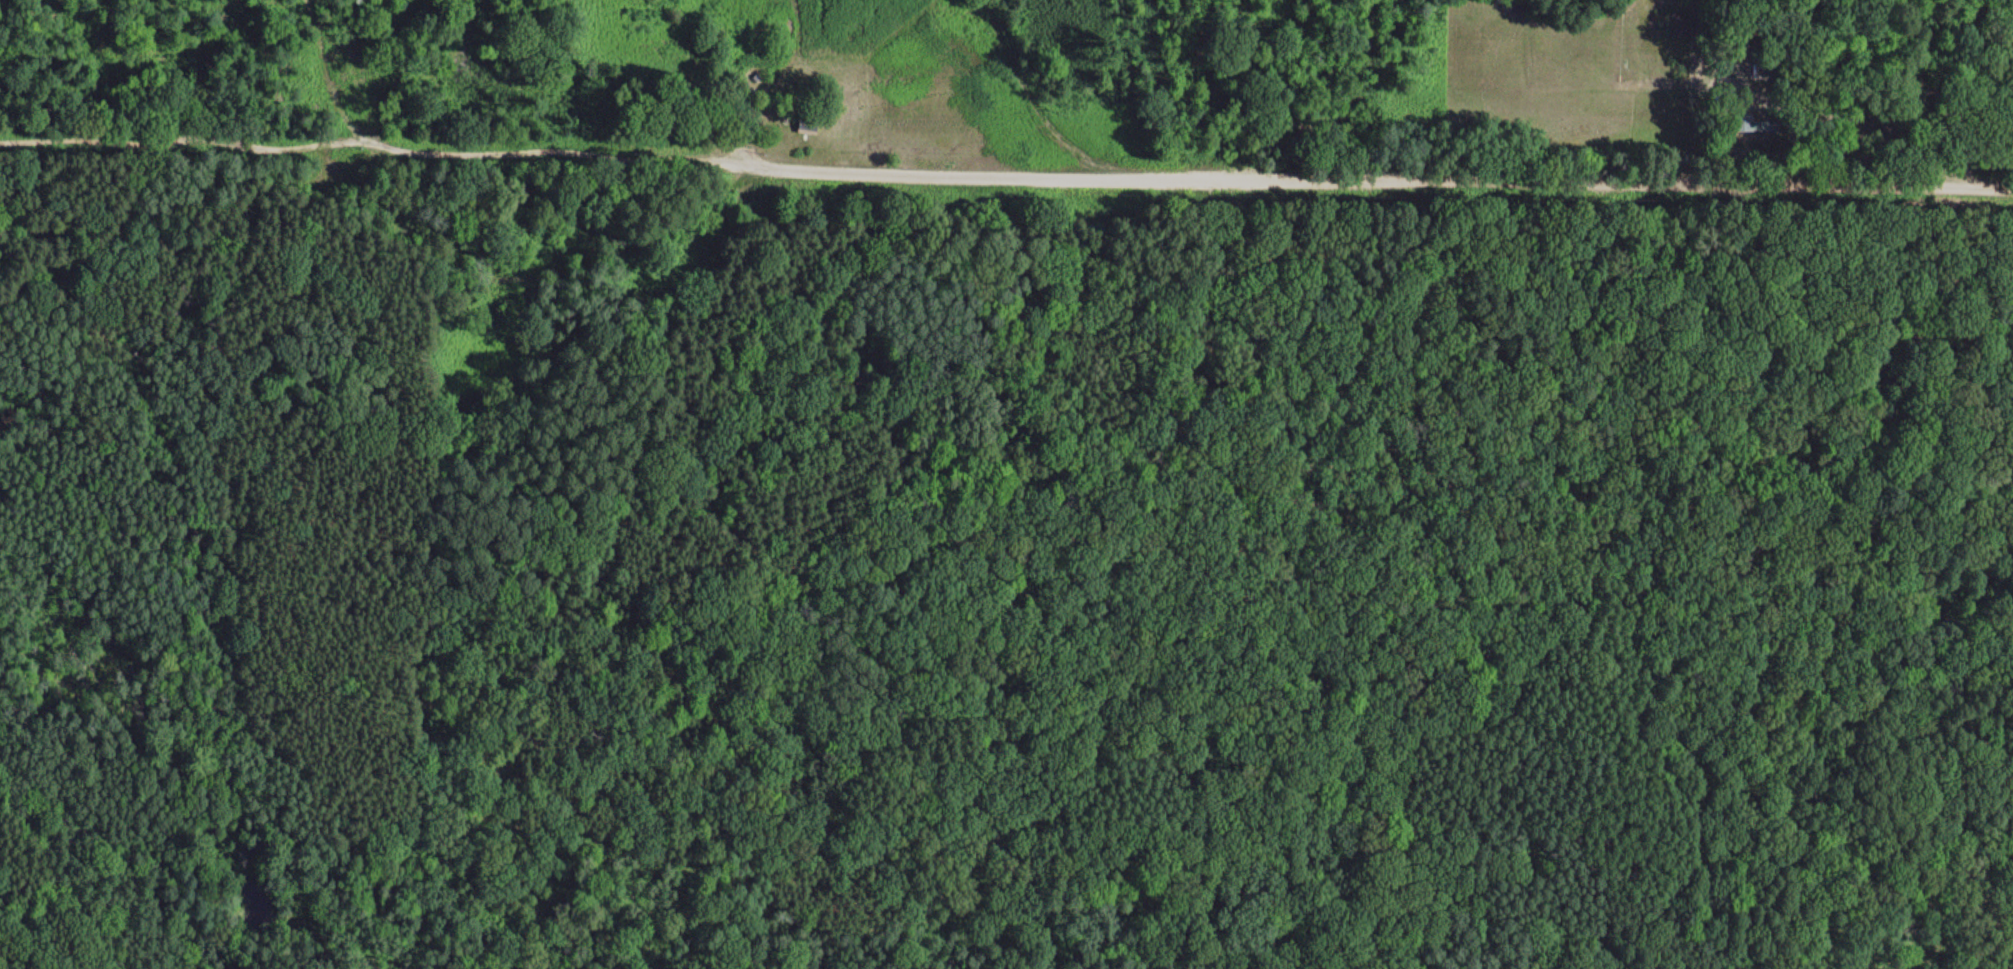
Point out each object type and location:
road: (328, 70)
building: (1756, 121)
building: (806, 123)
road: (335, 142)
road: (1341, 183)
road: (410, 226)
road: (27, 291)
road: (1114, 518)

